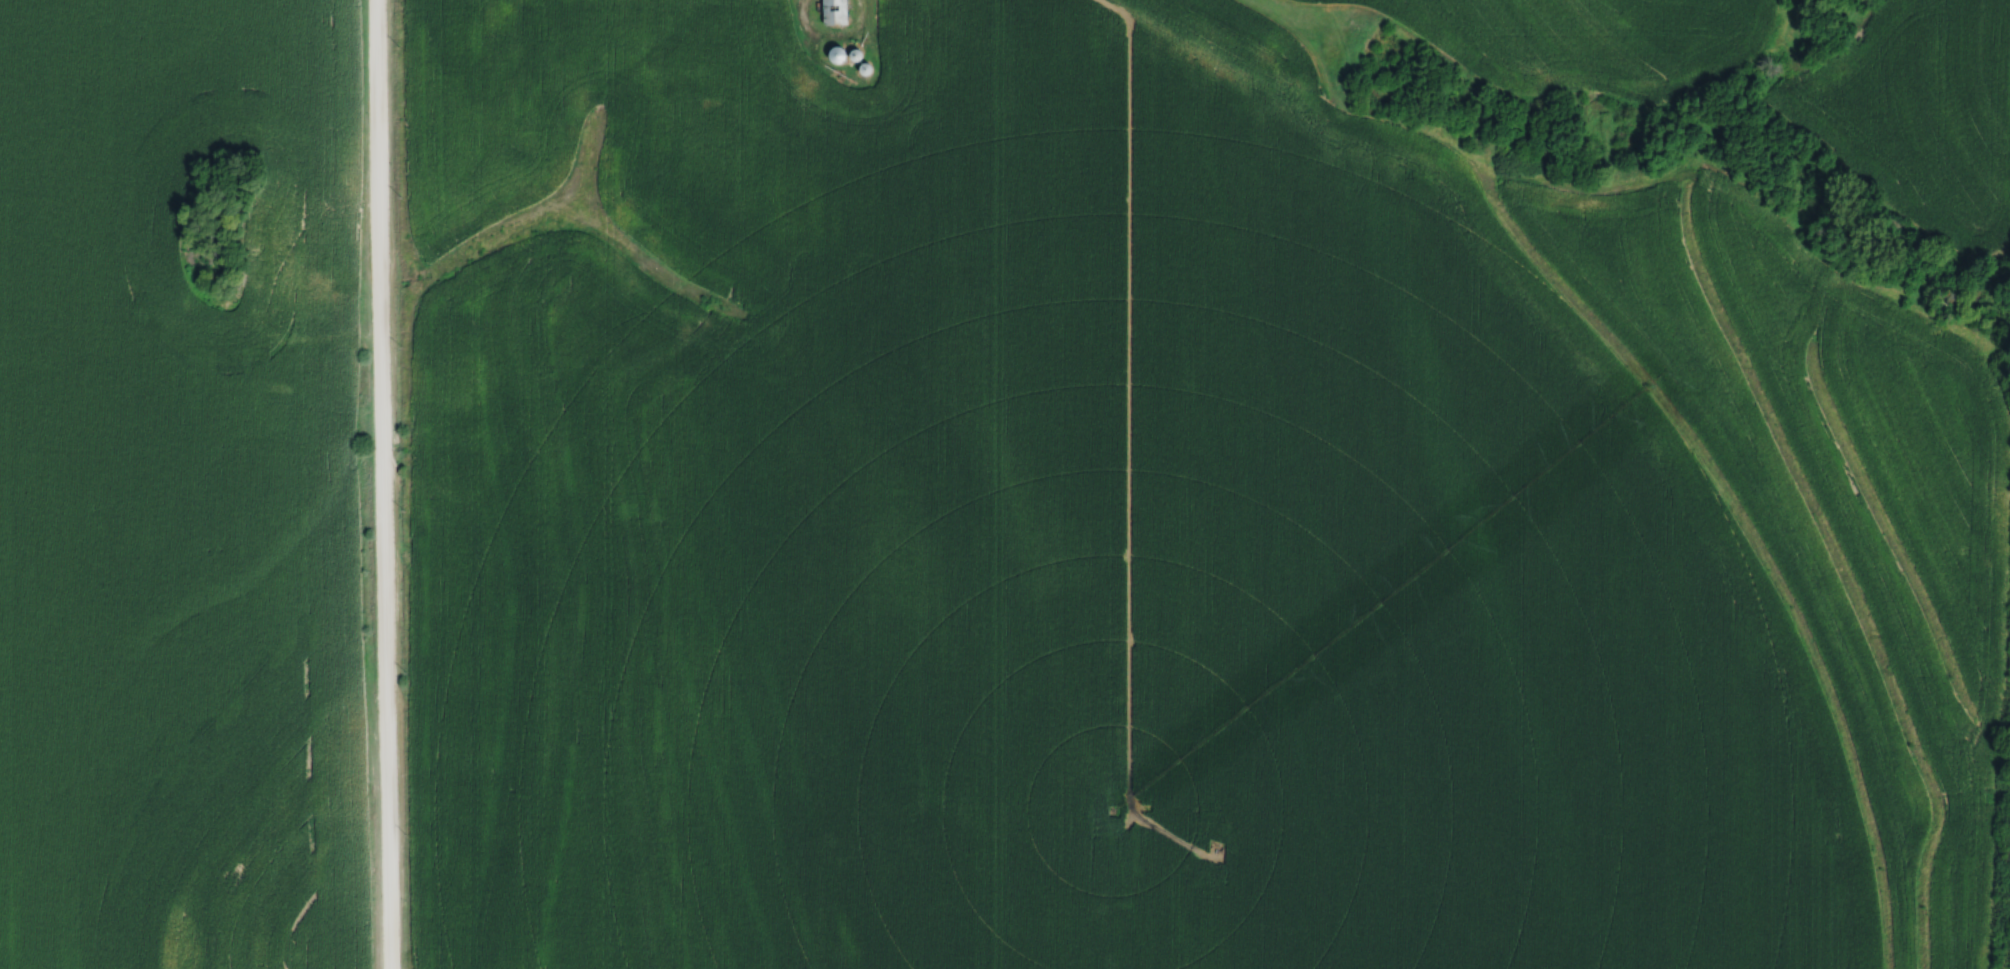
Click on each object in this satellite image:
building: (830, 11)
building: (830, 53)
road: (378, 484)

